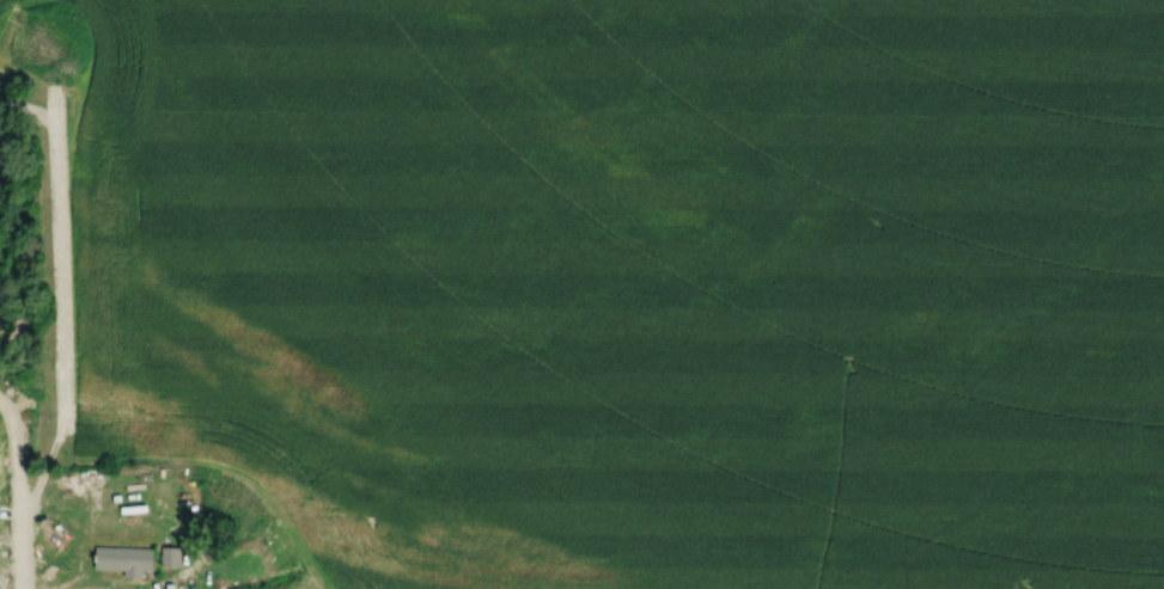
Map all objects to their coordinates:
road: (4, 419)
road: (11, 509)
building: (169, 554)
building: (122, 559)

